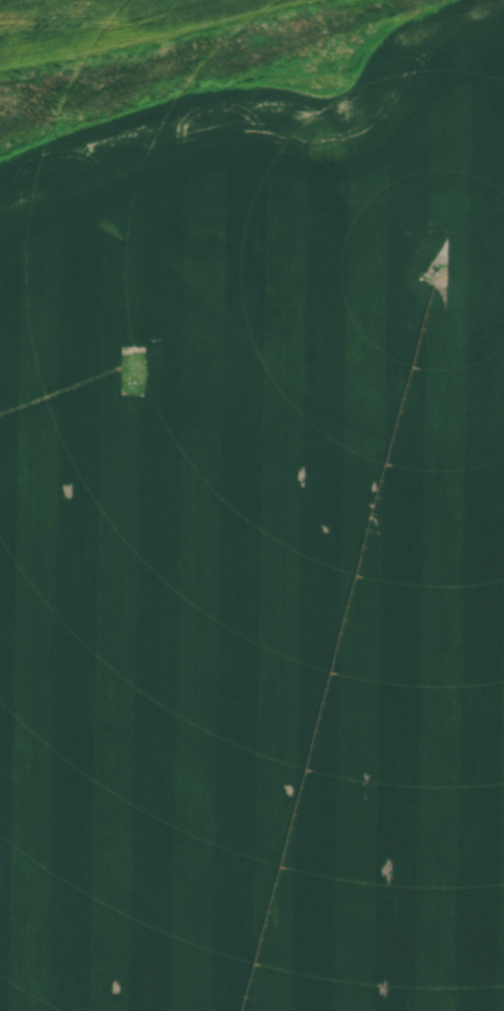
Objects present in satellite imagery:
crop: (258, 545)

